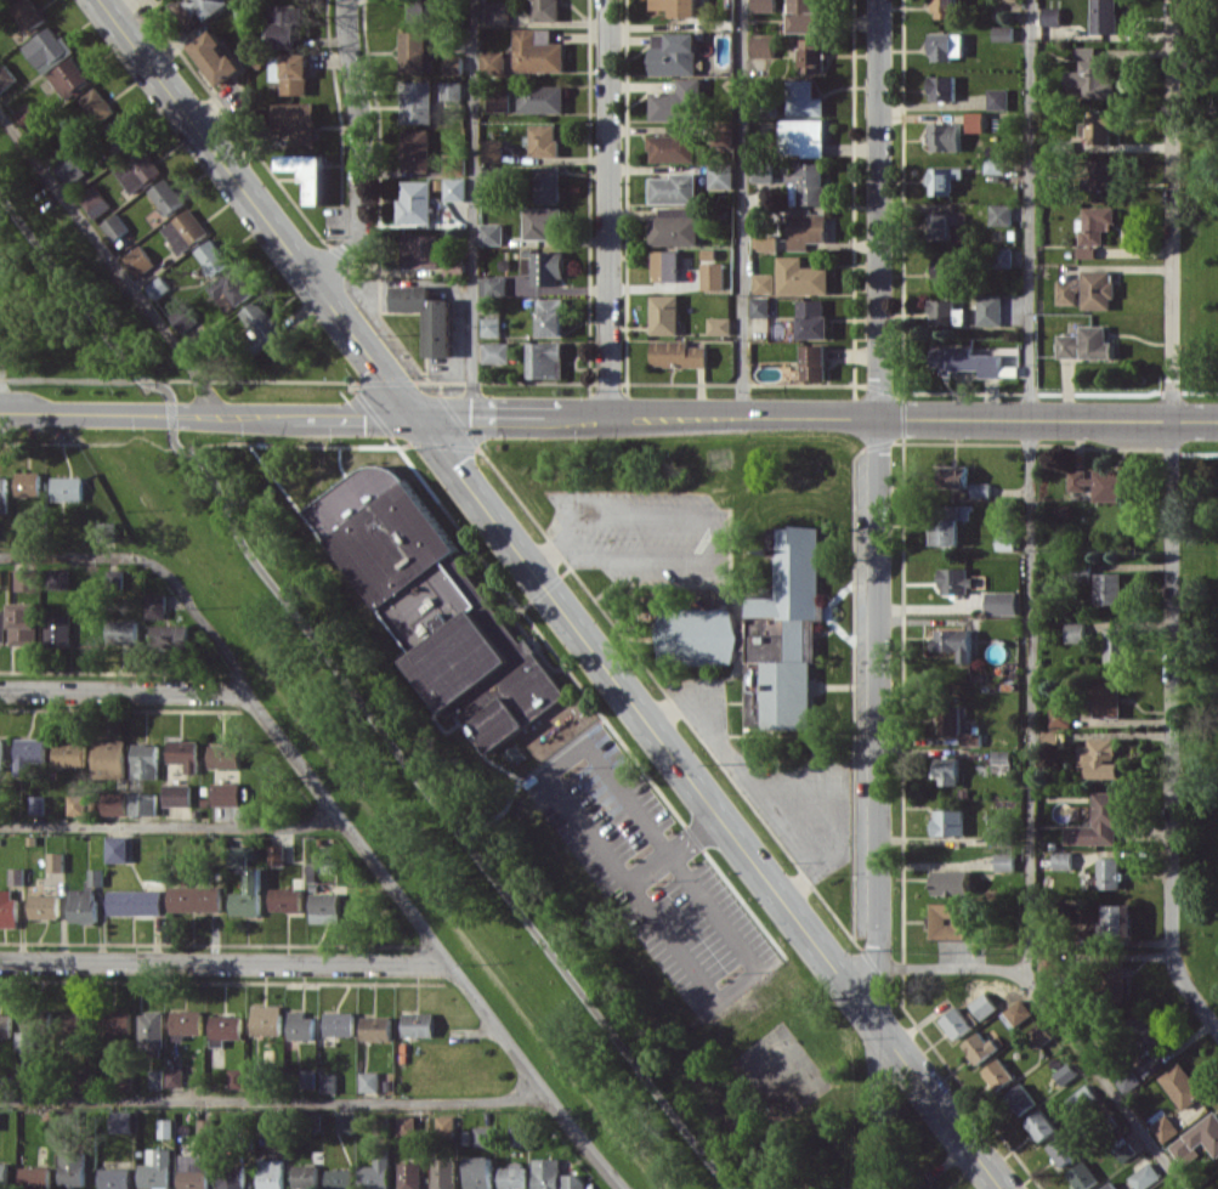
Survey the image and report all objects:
building: (1009, 0)
building: (764, 5)
building: (678, 6)
building: (206, 7)
building: (945, 9)
building: (424, 10)
building: (545, 10)
building: (498, 12)
building: (27, 13)
building: (1052, 15)
building: (805, 16)
building: (1105, 16)
building: (285, 24)
building: (1003, 33)
building: (947, 45)
building: (763, 46)
building: (46, 49)
building: (414, 51)
building: (538, 51)
building: (674, 53)
building: (812, 55)
building: (215, 57)
building: (493, 61)
building: (454, 64)
building: (290, 72)
building: (6, 77)
building: (69, 77)
building: (1093, 77)
building: (942, 87)
building: (451, 90)
building: (542, 98)
building: (804, 98)
building: (997, 98)
building: (417, 101)
building: (499, 101)
building: (678, 102)
building: (96, 104)
building: (27, 115)
building: (295, 120)
building: (975, 121)
building: (1101, 126)
building: (117, 135)
building: (804, 136)
building: (945, 136)
building: (544, 140)
building: (672, 148)
road: (358, 149)
building: (415, 149)
building: (492, 149)
building: (995, 165)
building: (70, 169)
building: (137, 170)
building: (763, 170)
building: (306, 172)
building: (492, 174)
building: (1104, 174)
building: (720, 175)
building: (944, 179)
building: (809, 182)
building: (546, 183)
building: (454, 188)
building: (674, 188)
building: (165, 196)
building: (92, 199)
building: (415, 200)
road: (256, 206)
road: (471, 208)
road: (608, 208)
road: (742, 209)
road: (1171, 210)
building: (1001, 214)
building: (542, 221)
building: (941, 223)
building: (1095, 223)
building: (114, 226)
building: (675, 226)
building: (806, 228)
building: (183, 230)
building: (491, 233)
building: (765, 242)
building: (421, 249)
building: (1087, 250)
building: (1003, 256)
building: (209, 257)
building: (137, 260)
road: (114, 264)
building: (665, 265)
building: (545, 267)
building: (946, 270)
building: (713, 274)
building: (801, 276)
building: (764, 282)
building: (493, 285)
building: (157, 287)
building: (230, 289)
building: (1088, 289)
building: (760, 306)
building: (990, 308)
building: (945, 312)
building: (664, 313)
building: (427, 316)
building: (551, 317)
building: (812, 319)
building: (257, 323)
building: (719, 325)
building: (491, 327)
building: (1087, 342)
building: (495, 351)
building: (678, 353)
building: (545, 359)
building: (967, 359)
building: (815, 362)
road: (206, 413)
traffic signals: (414, 415)
road: (792, 418)
road: (1195, 420)
building: (954, 476)
building: (1104, 482)
building: (28, 483)
road: (1031, 486)
building: (67, 488)
building: (981, 488)
park: (1199, 491)
building: (4, 493)
building: (946, 531)
road: (702, 538)
building: (1005, 542)
road: (549, 553)
road: (153, 566)
building: (0, 578)
building: (60, 578)
building: (27, 579)
building: (956, 579)
building: (1109, 588)
road: (879, 594)
building: (1002, 602)
building: (154, 605)
building: (435, 606)
building: (24, 623)
building: (2, 624)
building: (787, 628)
building: (57, 629)
building: (121, 632)
building: (1076, 632)
building: (168, 635)
building: (697, 635)
building: (954, 641)
building: (1117, 644)
road: (124, 690)
road: (353, 692)
building: (1109, 696)
building: (1061, 712)
building: (951, 718)
road: (1173, 727)
building: (973, 738)
building: (1, 753)
building: (69, 753)
building: (183, 753)
building: (28, 754)
building: (223, 755)
building: (1101, 757)
building: (109, 758)
building: (145, 759)
building: (1002, 760)
building: (947, 770)
road: (753, 772)
building: (226, 793)
building: (177, 794)
road: (708, 802)
building: (114, 803)
building: (143, 803)
building: (36, 804)
building: (77, 804)
building: (177, 811)
building: (1099, 821)
building: (950, 822)
road: (171, 828)
road: (585, 831)
building: (118, 849)
building: (276, 854)
building: (237, 855)
building: (1063, 860)
building: (55, 861)
building: (1004, 861)
building: (1107, 873)
building: (16, 876)
building: (95, 876)
building: (952, 882)
building: (248, 895)
building: (194, 899)
building: (285, 899)
building: (134, 901)
building: (81, 905)
building: (44, 906)
building: (7, 907)
building: (324, 907)
building: (950, 921)
building: (1120, 921)
road: (437, 939)
road: (227, 961)
building: (1050, 961)
road: (950, 968)
building: (1116, 979)
road: (736, 983)
building: (984, 1006)
building: (1019, 1012)
building: (266, 1019)
building: (117, 1021)
building: (186, 1021)
building: (339, 1023)
building: (956, 1023)
building: (77, 1024)
building: (418, 1024)
building: (5, 1025)
building: (300, 1025)
building: (375, 1027)
building: (225, 1029)
building: (152, 1030)
building: (1144, 1034)
building: (1039, 1035)
building: (27, 1041)
building: (979, 1046)
building: (998, 1074)
building: (1065, 1074)
building: (175, 1076)
building: (236, 1077)
building: (253, 1077)
building: (157, 1078)
building: (307, 1078)
road: (1103, 1078)
building: (368, 1081)
building: (328, 1082)
building: (1182, 1085)
building: (1084, 1097)
building: (1020, 1098)
road: (276, 1099)
building: (121, 1121)
building: (346, 1122)
building: (406, 1125)
building: (1041, 1125)
building: (444, 1126)
building: (165, 1127)
building: (205, 1127)
building: (1165, 1127)
building: (476, 1136)
building: (517, 1136)
building: (1197, 1138)
building: (1063, 1149)
building: (72, 1168)
building: (157, 1168)
building: (193, 1171)
building: (477, 1172)
building: (4, 1173)
building: (271, 1173)
building: (375, 1173)
building: (443, 1173)
building: (546, 1173)
building: (409, 1174)
building: (305, 1176)
building: (512, 1176)
building: (1082, 1176)
building: (1144, 1176)
building: (232, 1177)
building: (34, 1178)
building: (115, 1178)
building: (339, 1178)
building: (573, 1180)
building: (928, 1185)
building: (1111, 1185)
building: (1174, 1188)

